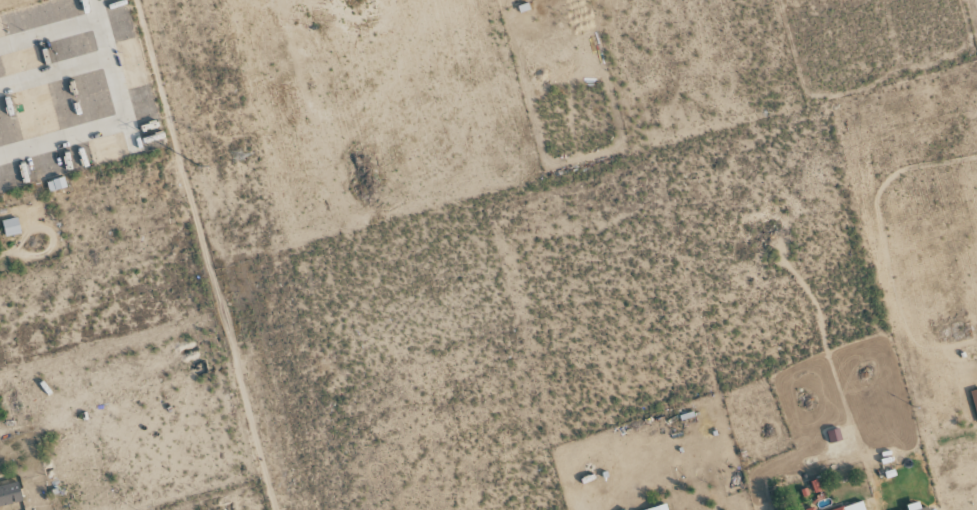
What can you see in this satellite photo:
road: (122, 72)
power tower: (236, 158)
power tower: (196, 169)
building: (56, 185)
building: (11, 227)
road: (204, 254)
building: (974, 399)
building: (10, 494)
building: (853, 507)
building: (659, 508)
building: (925, 508)
building: (811, 509)

